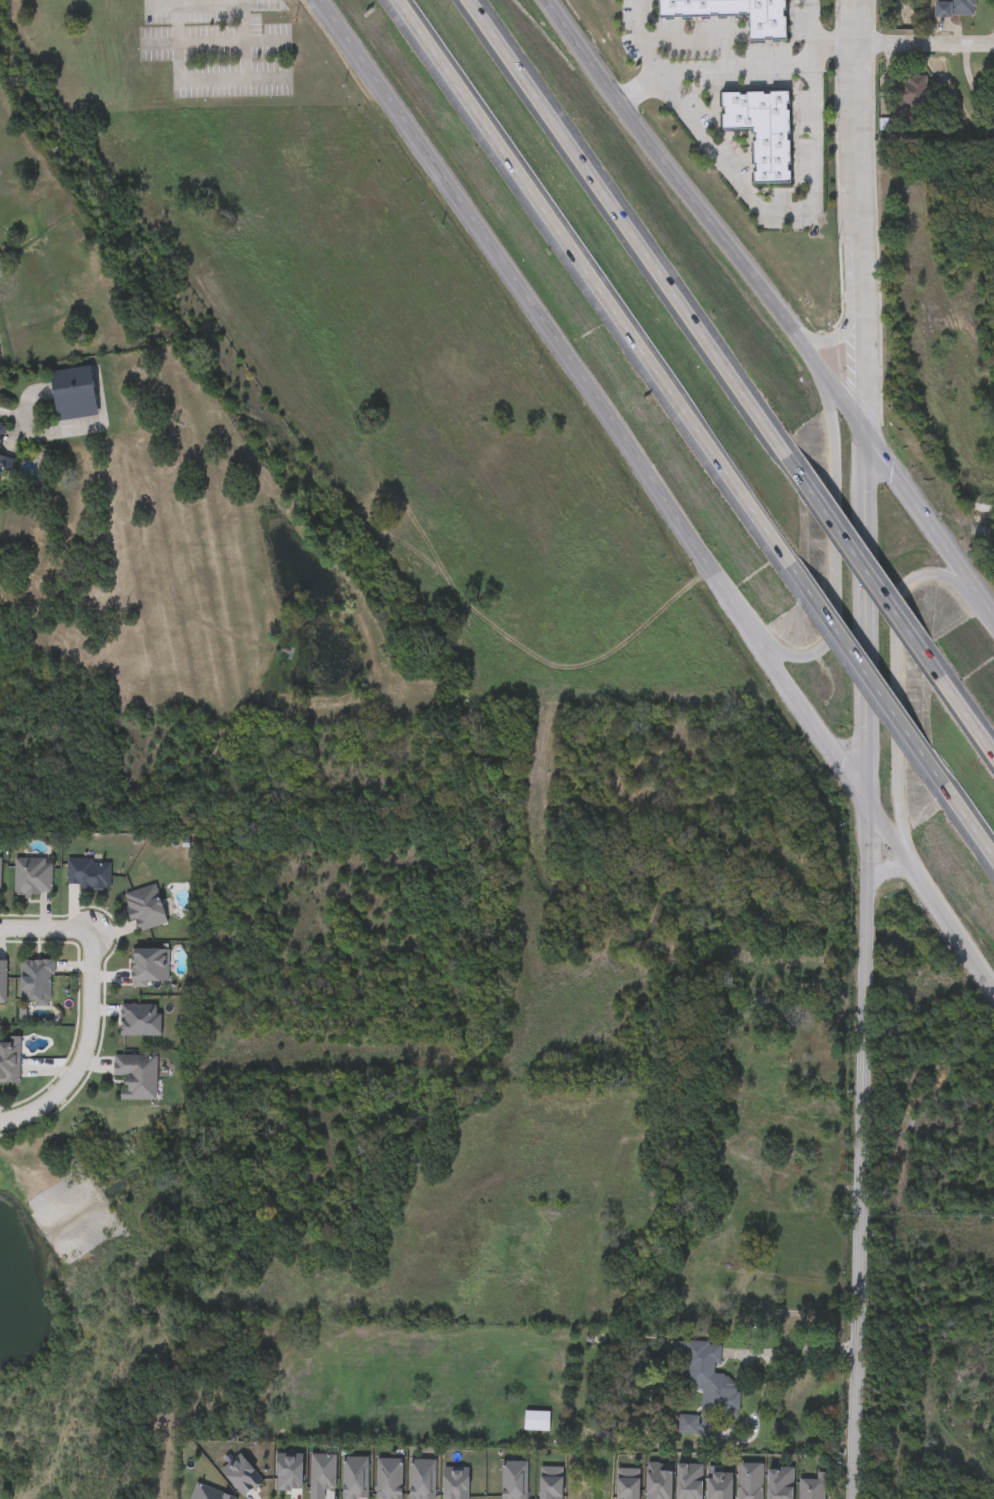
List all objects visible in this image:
road: (241, 1)
building: (955, 9)
building: (732, 14)
road: (696, 38)
road: (836, 43)
road: (926, 43)
road: (734, 64)
road: (177, 79)
road: (638, 88)
building: (908, 95)
building: (761, 131)
road: (766, 209)
road: (861, 216)
road: (705, 218)
road: (632, 227)
building: (2, 269)
road: (598, 280)
road: (839, 330)
building: (74, 402)
building: (1, 432)
building: (4, 465)
road: (658, 493)
road: (930, 526)
road: (870, 565)
road: (832, 573)
road: (869, 619)
road: (872, 672)
road: (898, 673)
road: (971, 711)
road: (971, 815)
road: (887, 869)
building: (0, 871)
building: (88, 875)
building: (32, 877)
building: (144, 909)
road: (45, 927)
building: (149, 968)
building: (2, 982)
building: (35, 982)
building: (68, 997)
building: (138, 1021)
road: (84, 1045)
building: (9, 1061)
building: (135, 1075)
road: (863, 1152)
road: (801, 1350)
building: (709, 1378)
building: (536, 1421)
building: (687, 1425)

